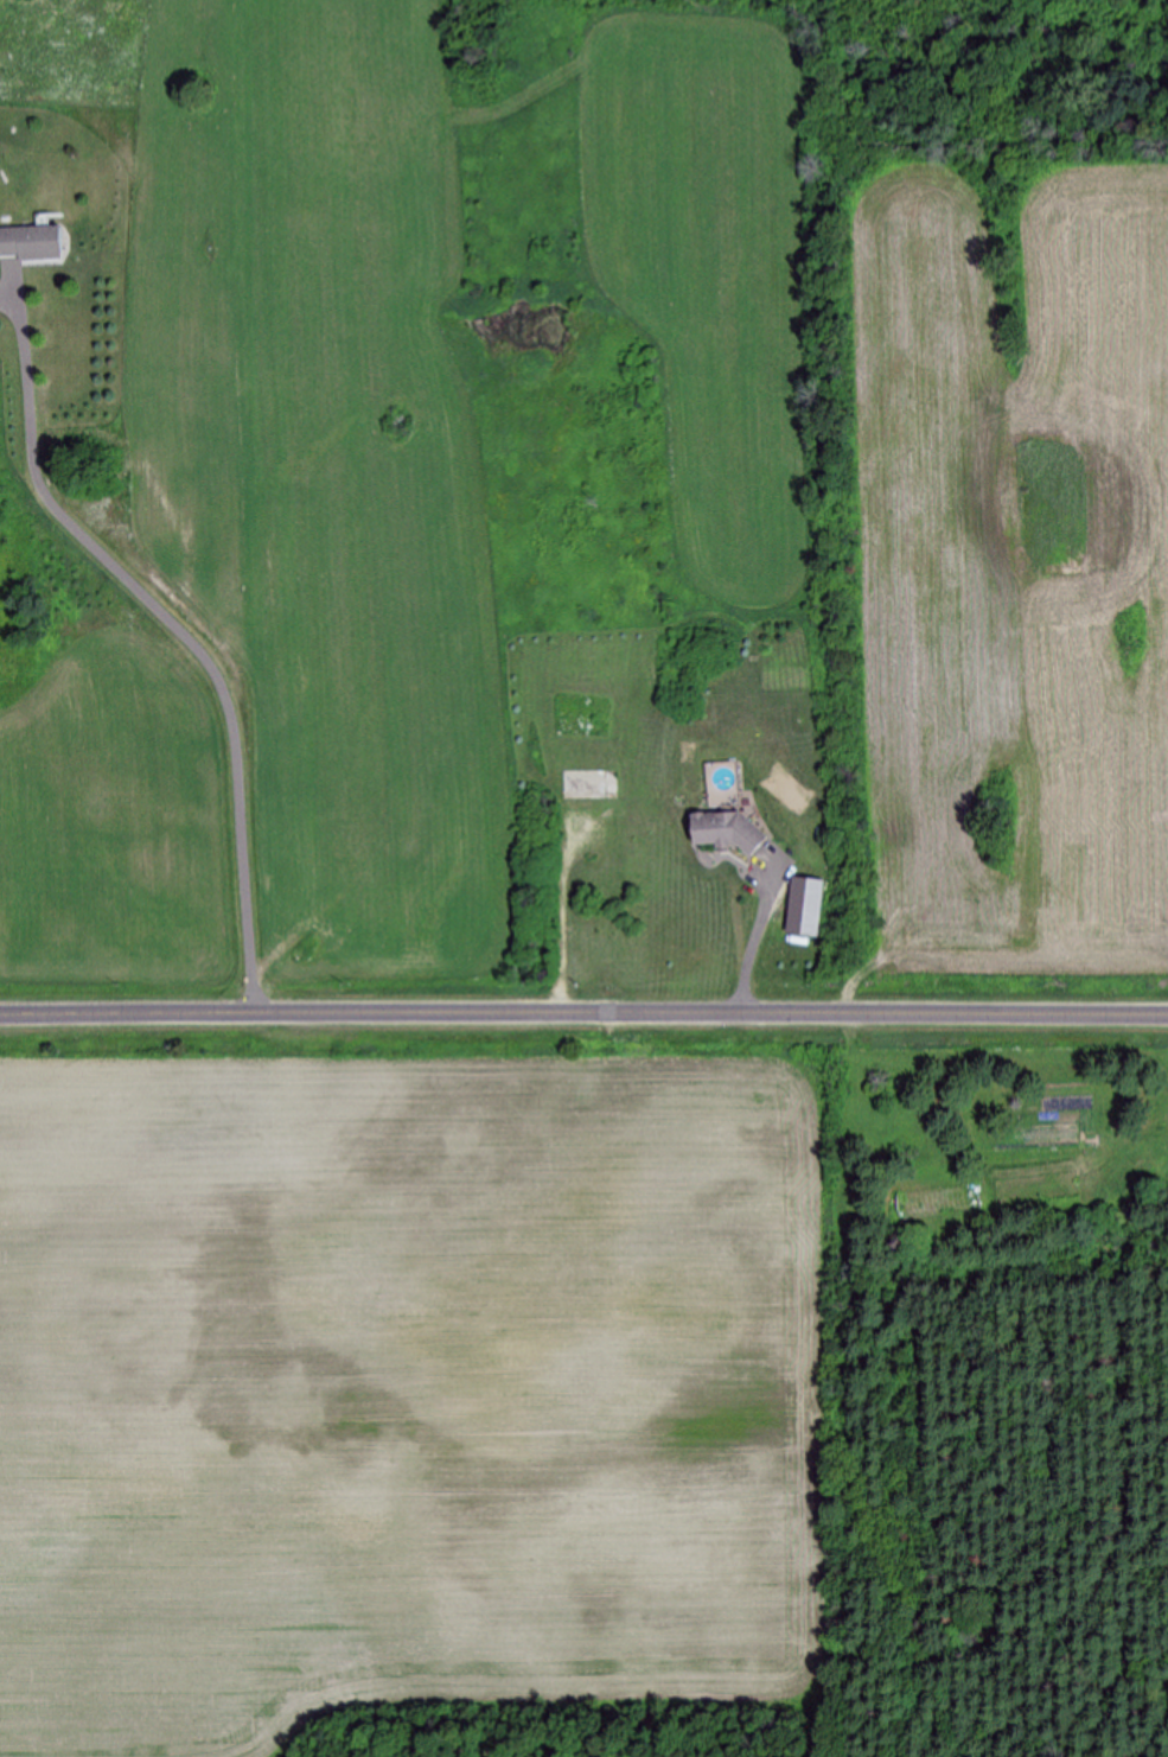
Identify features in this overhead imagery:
building: (33, 242)
building: (585, 785)
building: (729, 832)
road: (583, 1013)

